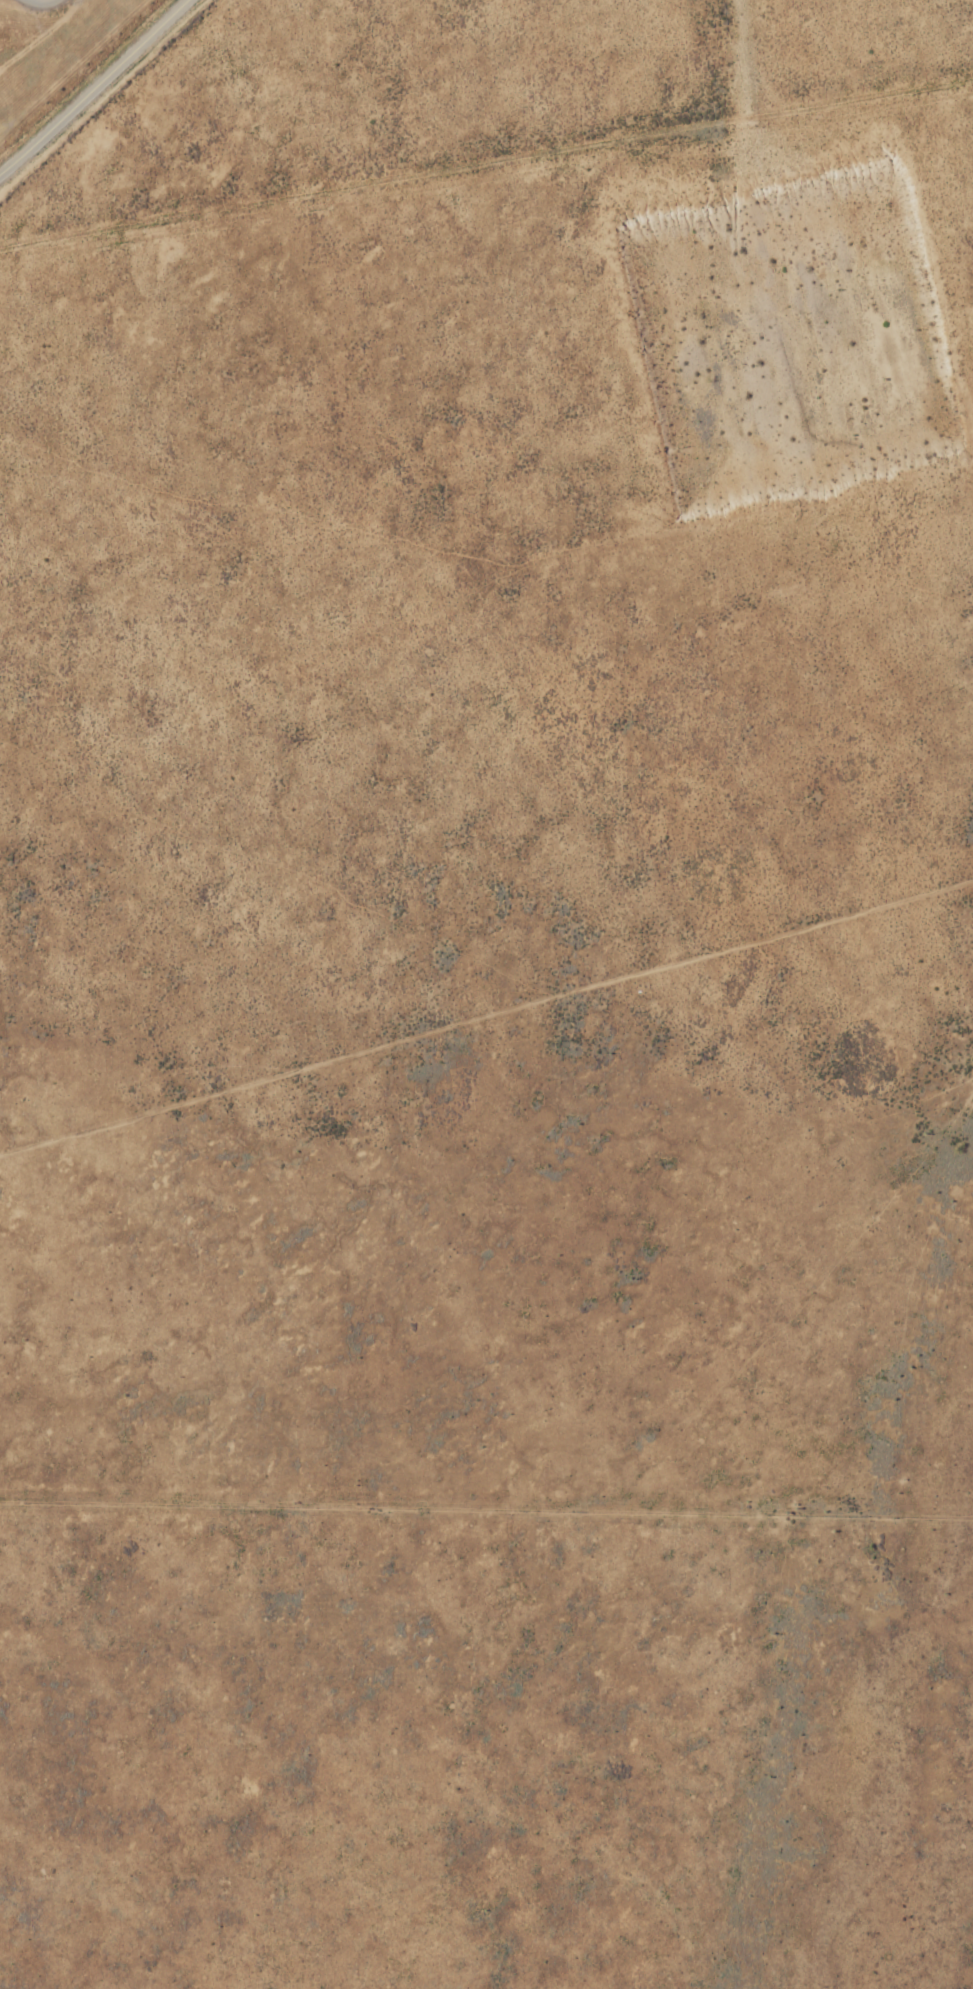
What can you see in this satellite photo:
road: (35, 1)
road: (98, 93)

